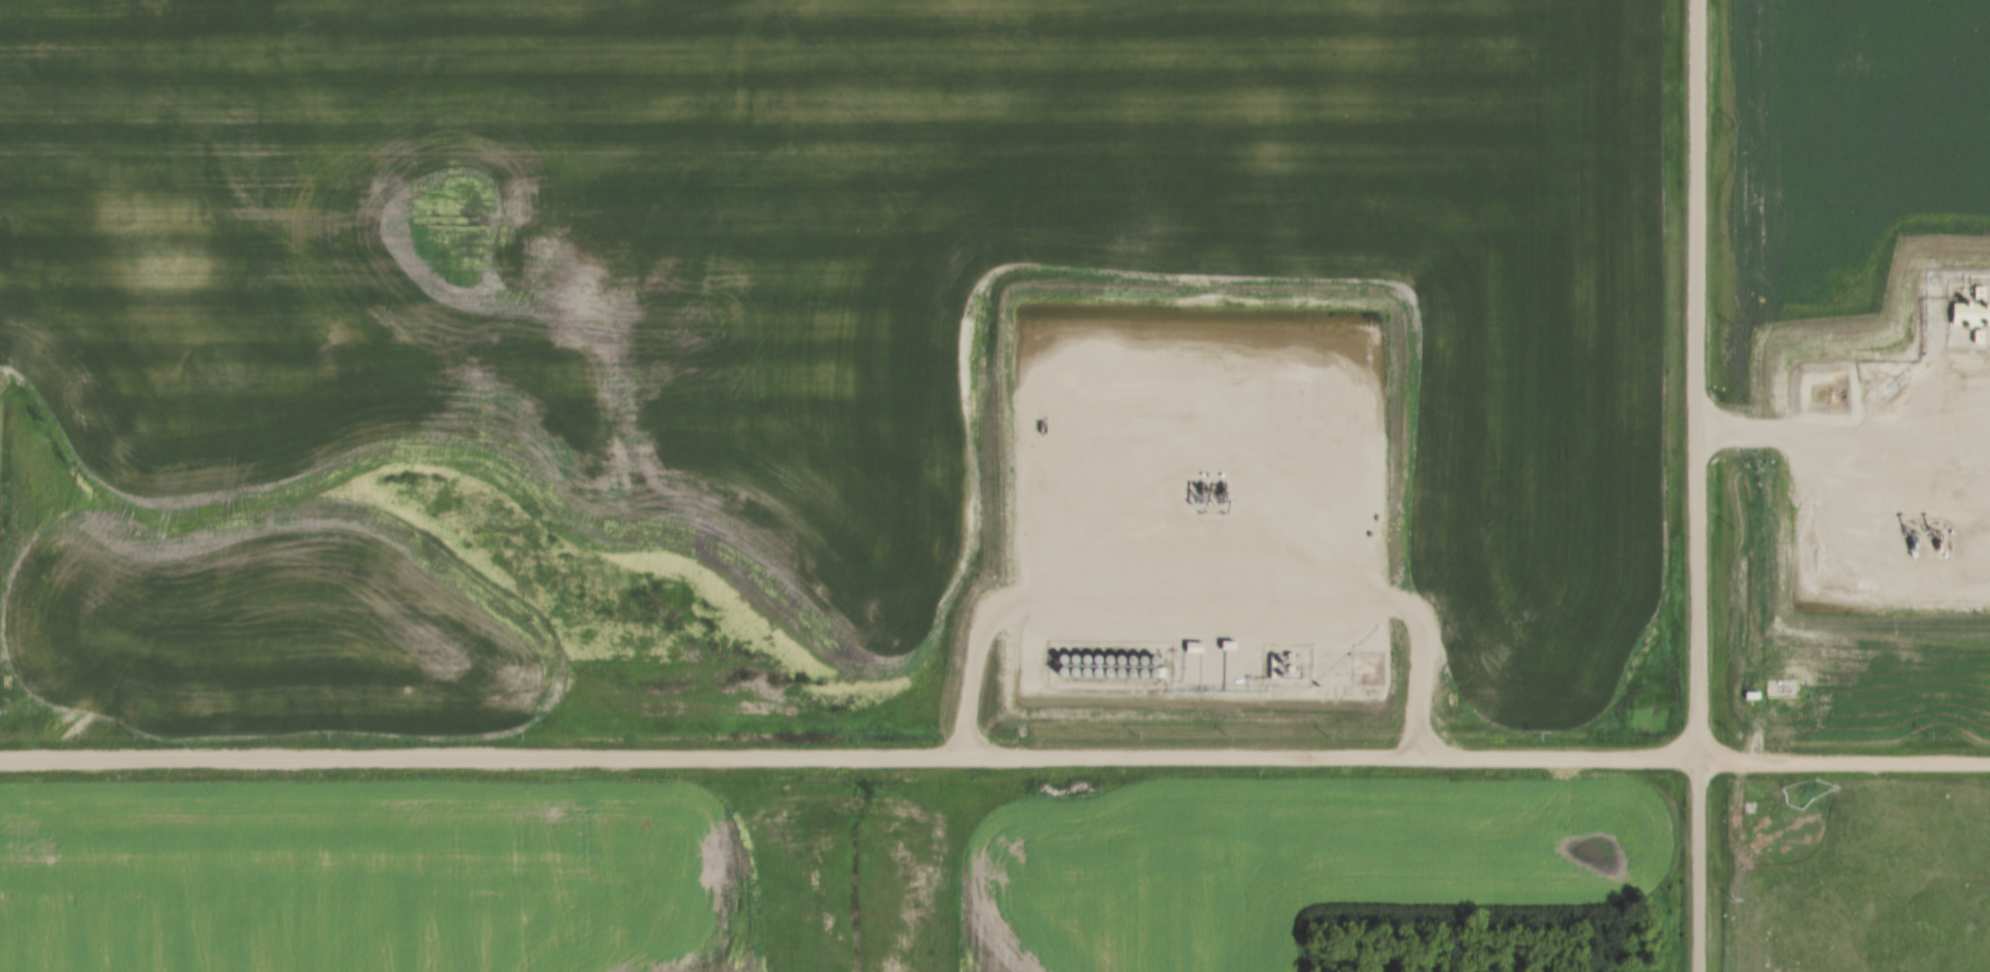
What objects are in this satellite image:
road: (1698, 378)
road: (995, 755)
road: (1698, 864)

